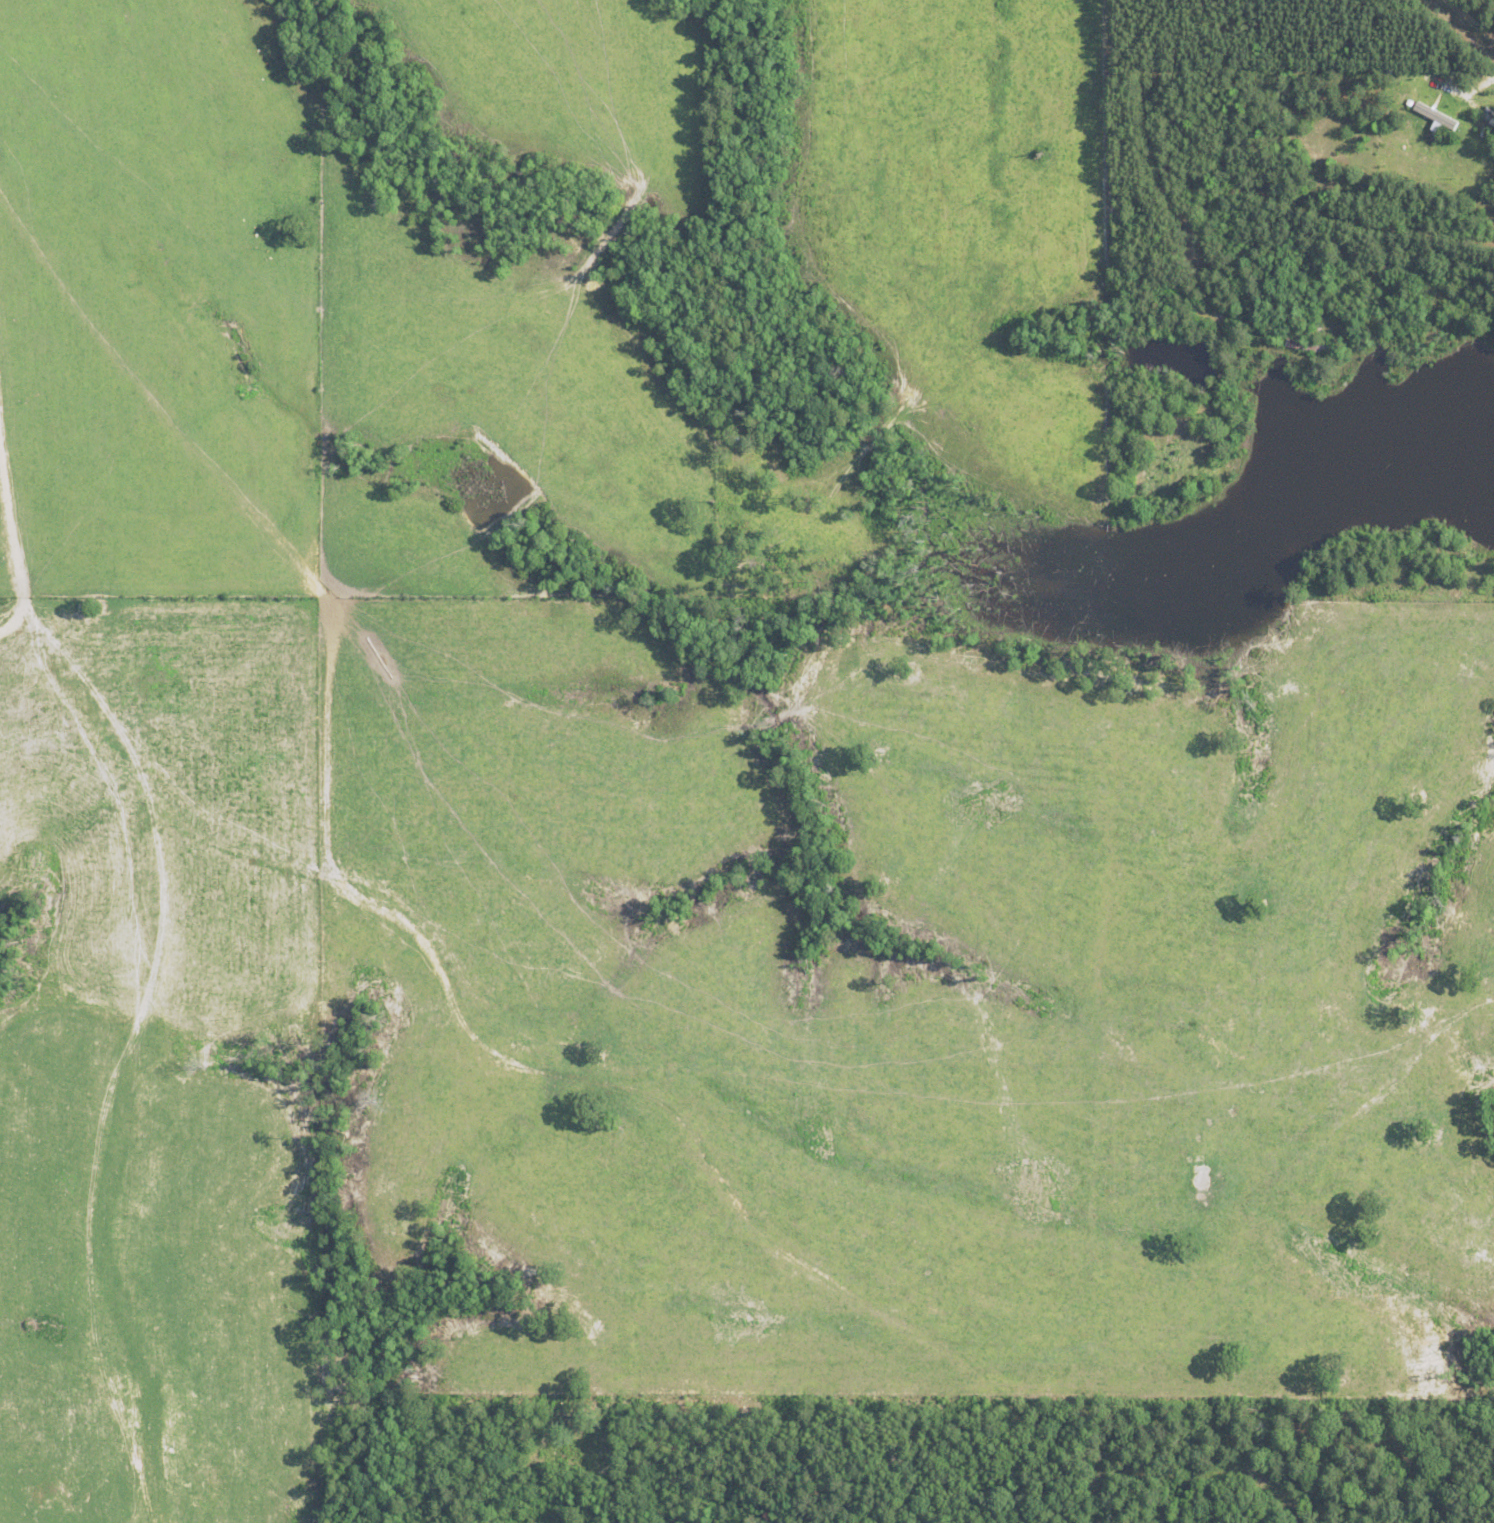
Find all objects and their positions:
road: (1470, 20)
building: (1432, 115)

